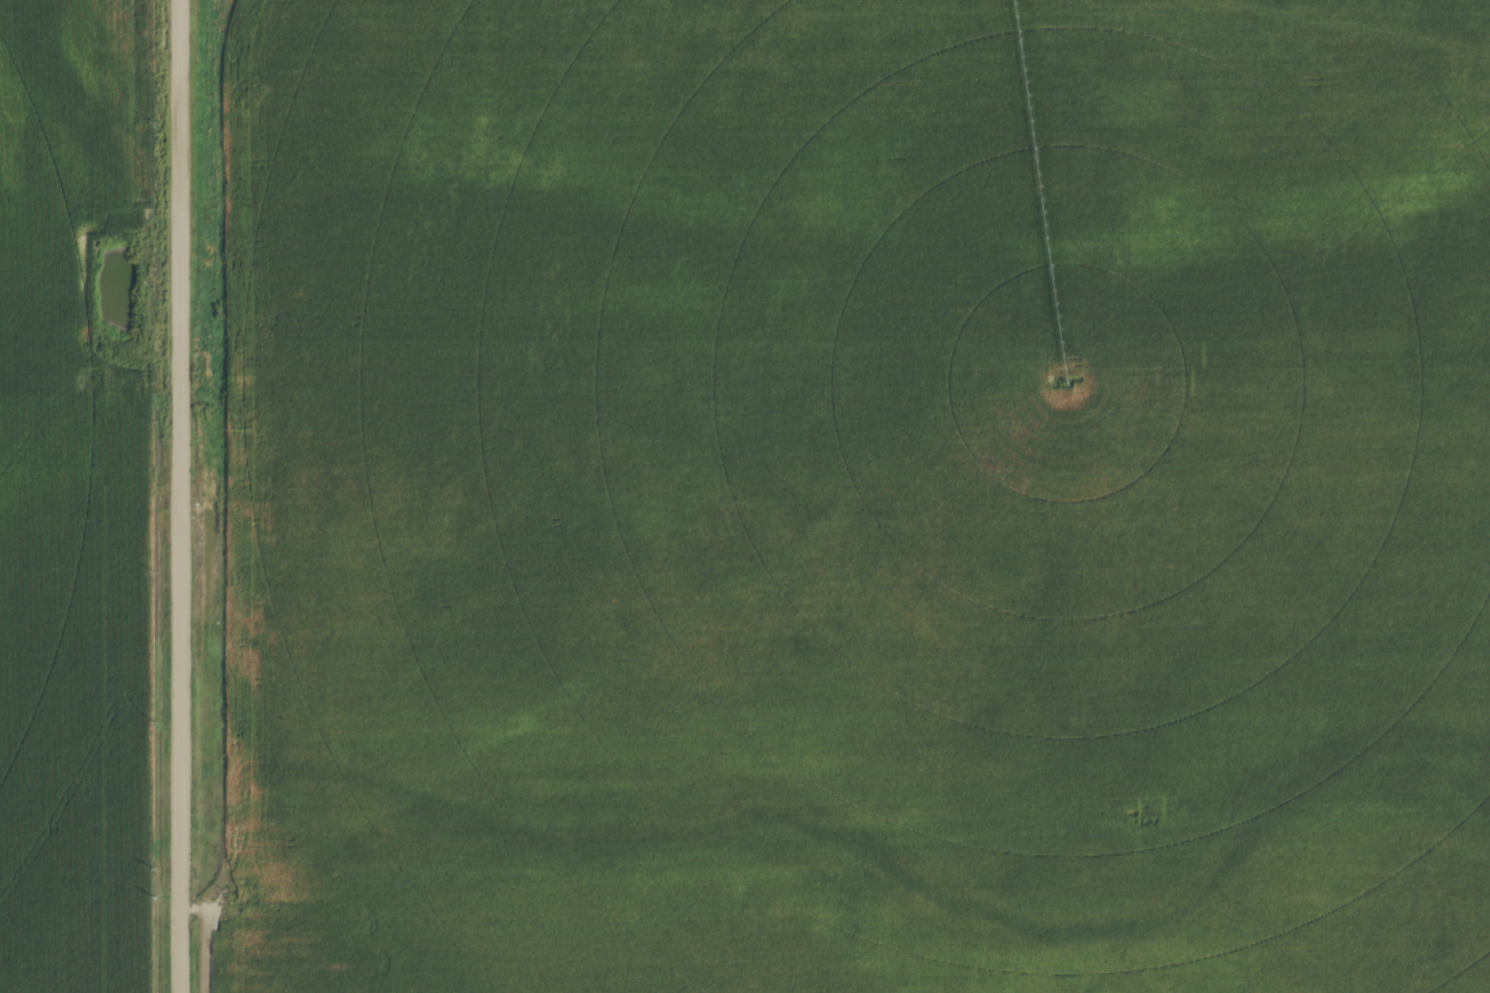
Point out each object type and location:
road: (181, 496)

